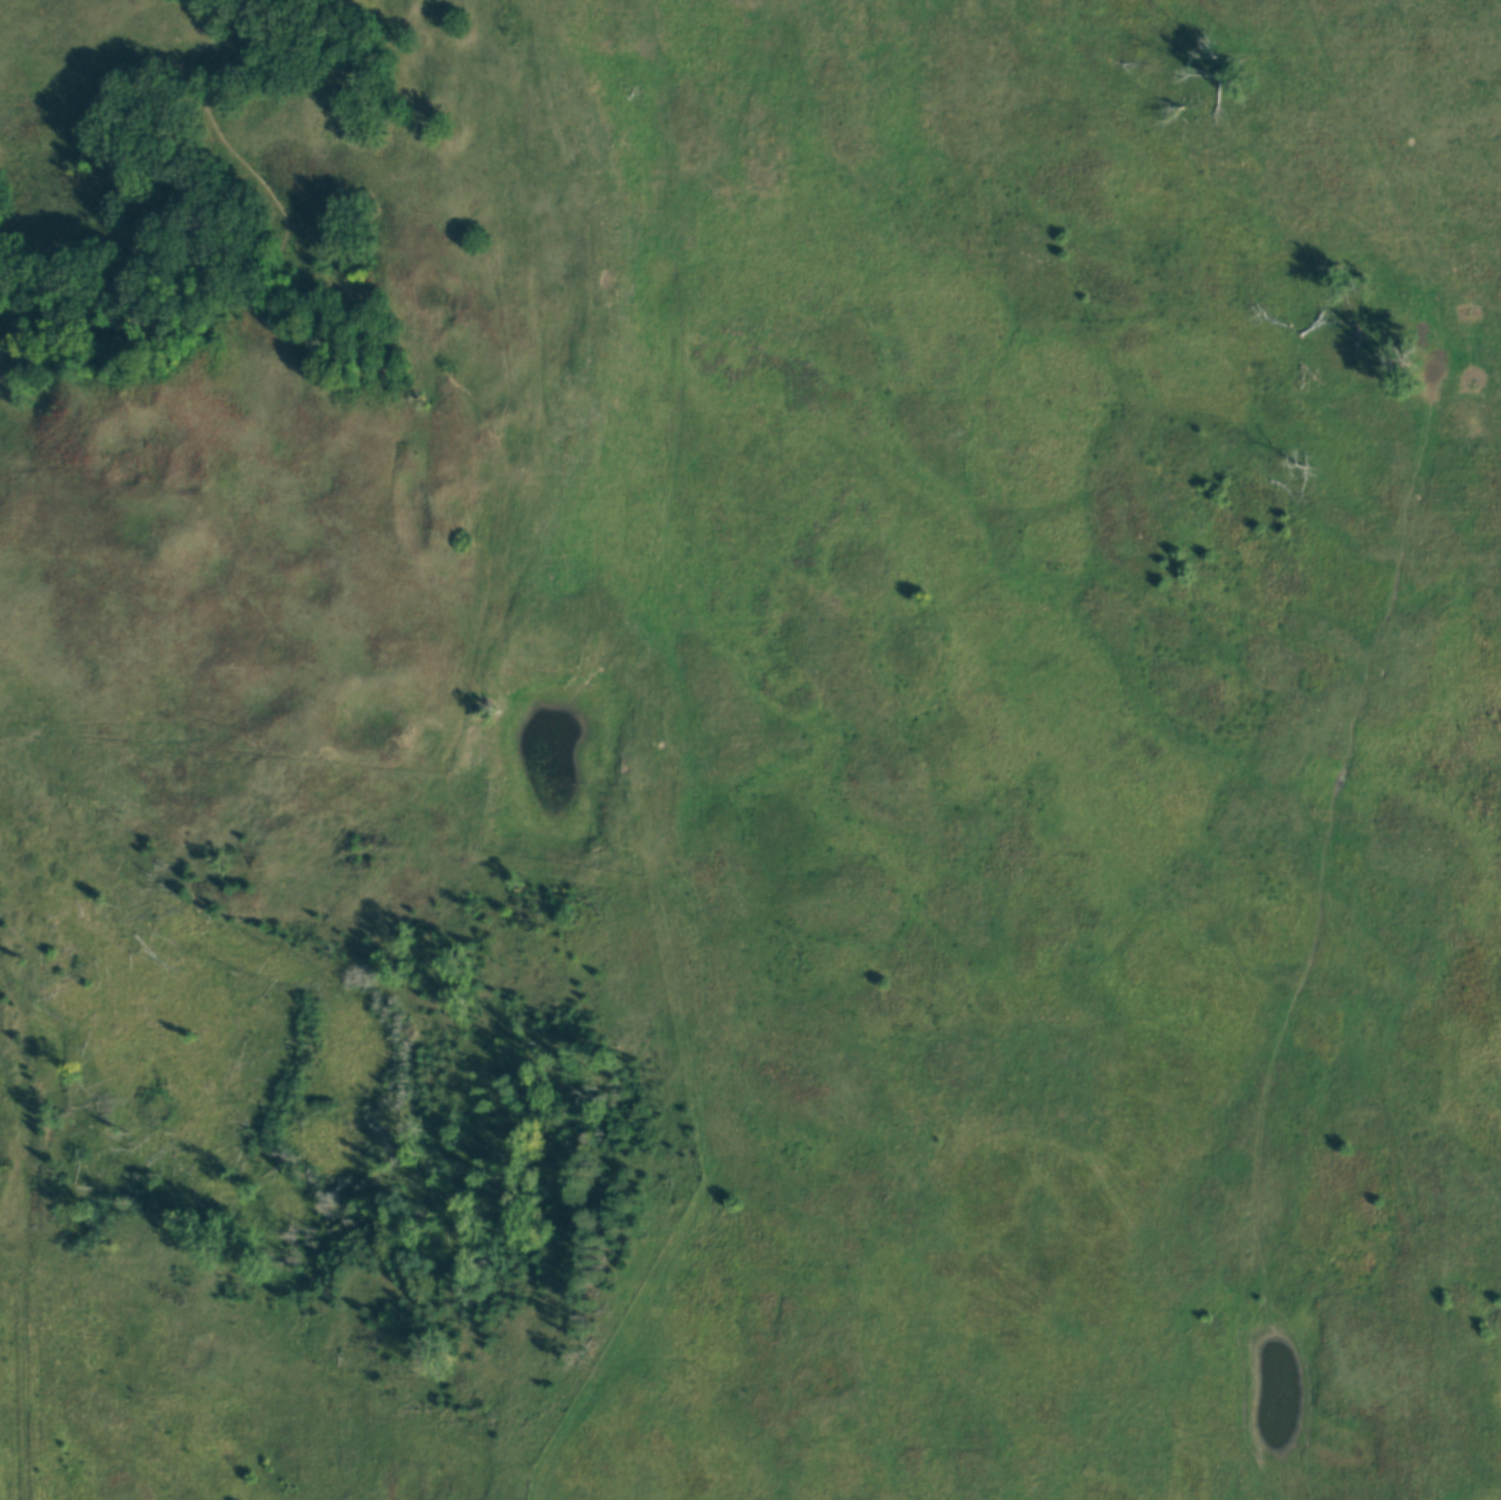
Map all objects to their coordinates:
road: (279, 234)

